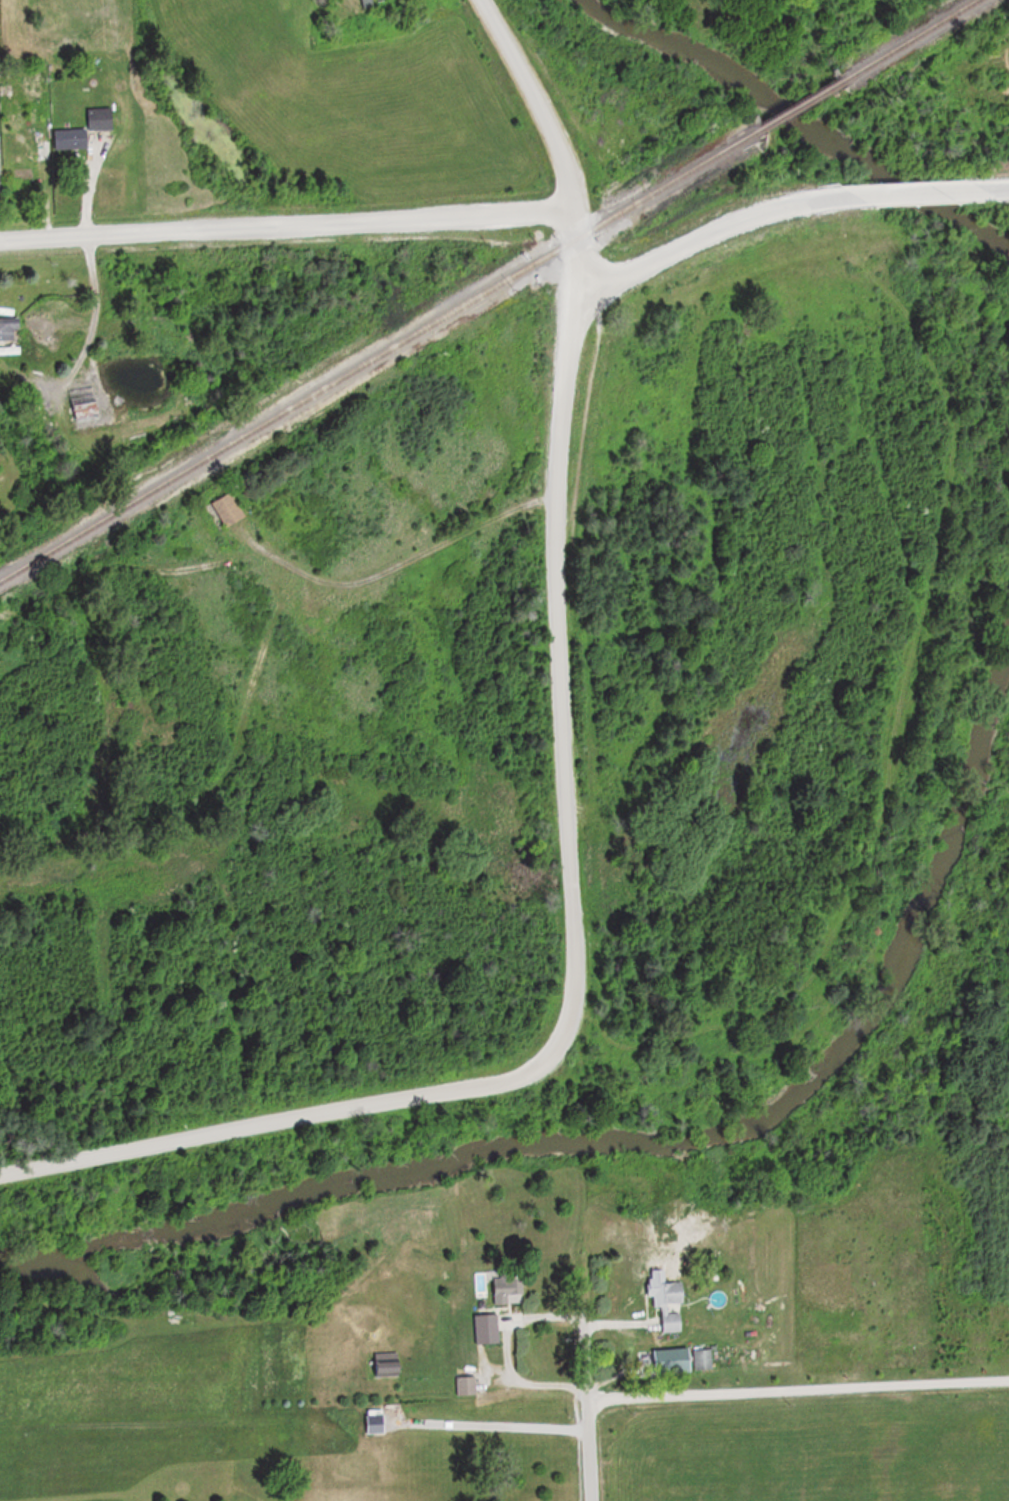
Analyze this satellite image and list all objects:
building: (370, 3)
railway: (915, 40)
road: (532, 101)
railway: (804, 105)
building: (85, 130)
building: (23, 141)
road: (994, 188)
road: (914, 191)
road: (283, 223)
road: (704, 229)
road: (566, 252)
building: (9, 328)
railway: (380, 356)
building: (86, 411)
building: (232, 514)
road: (570, 958)
building: (506, 1287)
building: (668, 1302)
building: (487, 1329)
road: (500, 1348)
building: (701, 1359)
road: (582, 1374)
building: (467, 1385)
road: (796, 1392)
road: (489, 1423)

